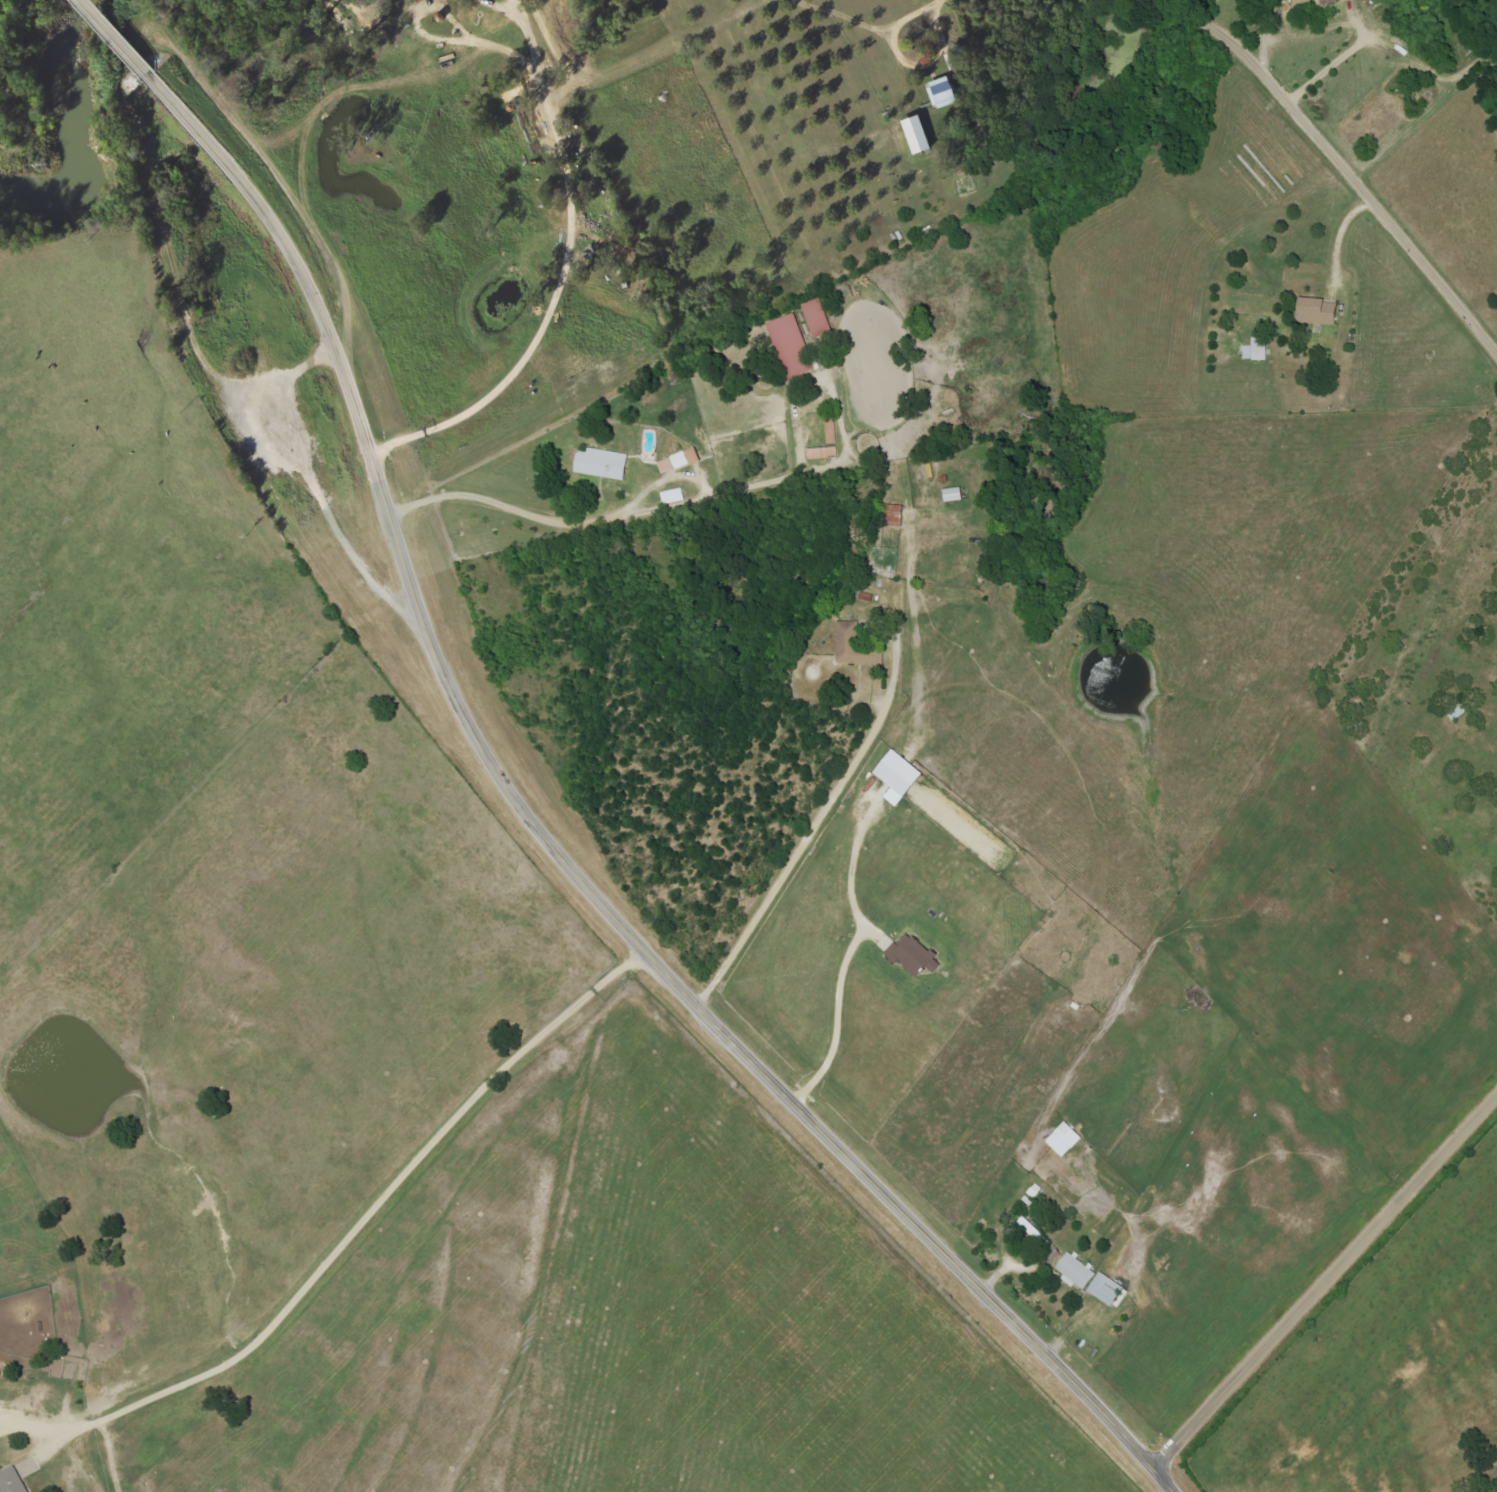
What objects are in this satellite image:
building: (1329, 1)
road: (937, 3)
road: (116, 40)
road: (909, 64)
river: (78, 119)
building: (916, 136)
road: (1324, 155)
road: (1339, 242)
road: (562, 276)
building: (1319, 316)
building: (792, 346)
building: (1257, 349)
building: (827, 441)
building: (680, 460)
building: (602, 463)
road: (296, 475)
road: (507, 511)
building: (894, 515)
building: (856, 646)
building: (900, 776)
road: (807, 835)
road: (559, 854)
building: (915, 954)
road: (832, 1021)
building: (1066, 1139)
road: (341, 1221)
building: (1075, 1271)
road: (1324, 1278)
building: (1106, 1289)
building: (12, 1481)

